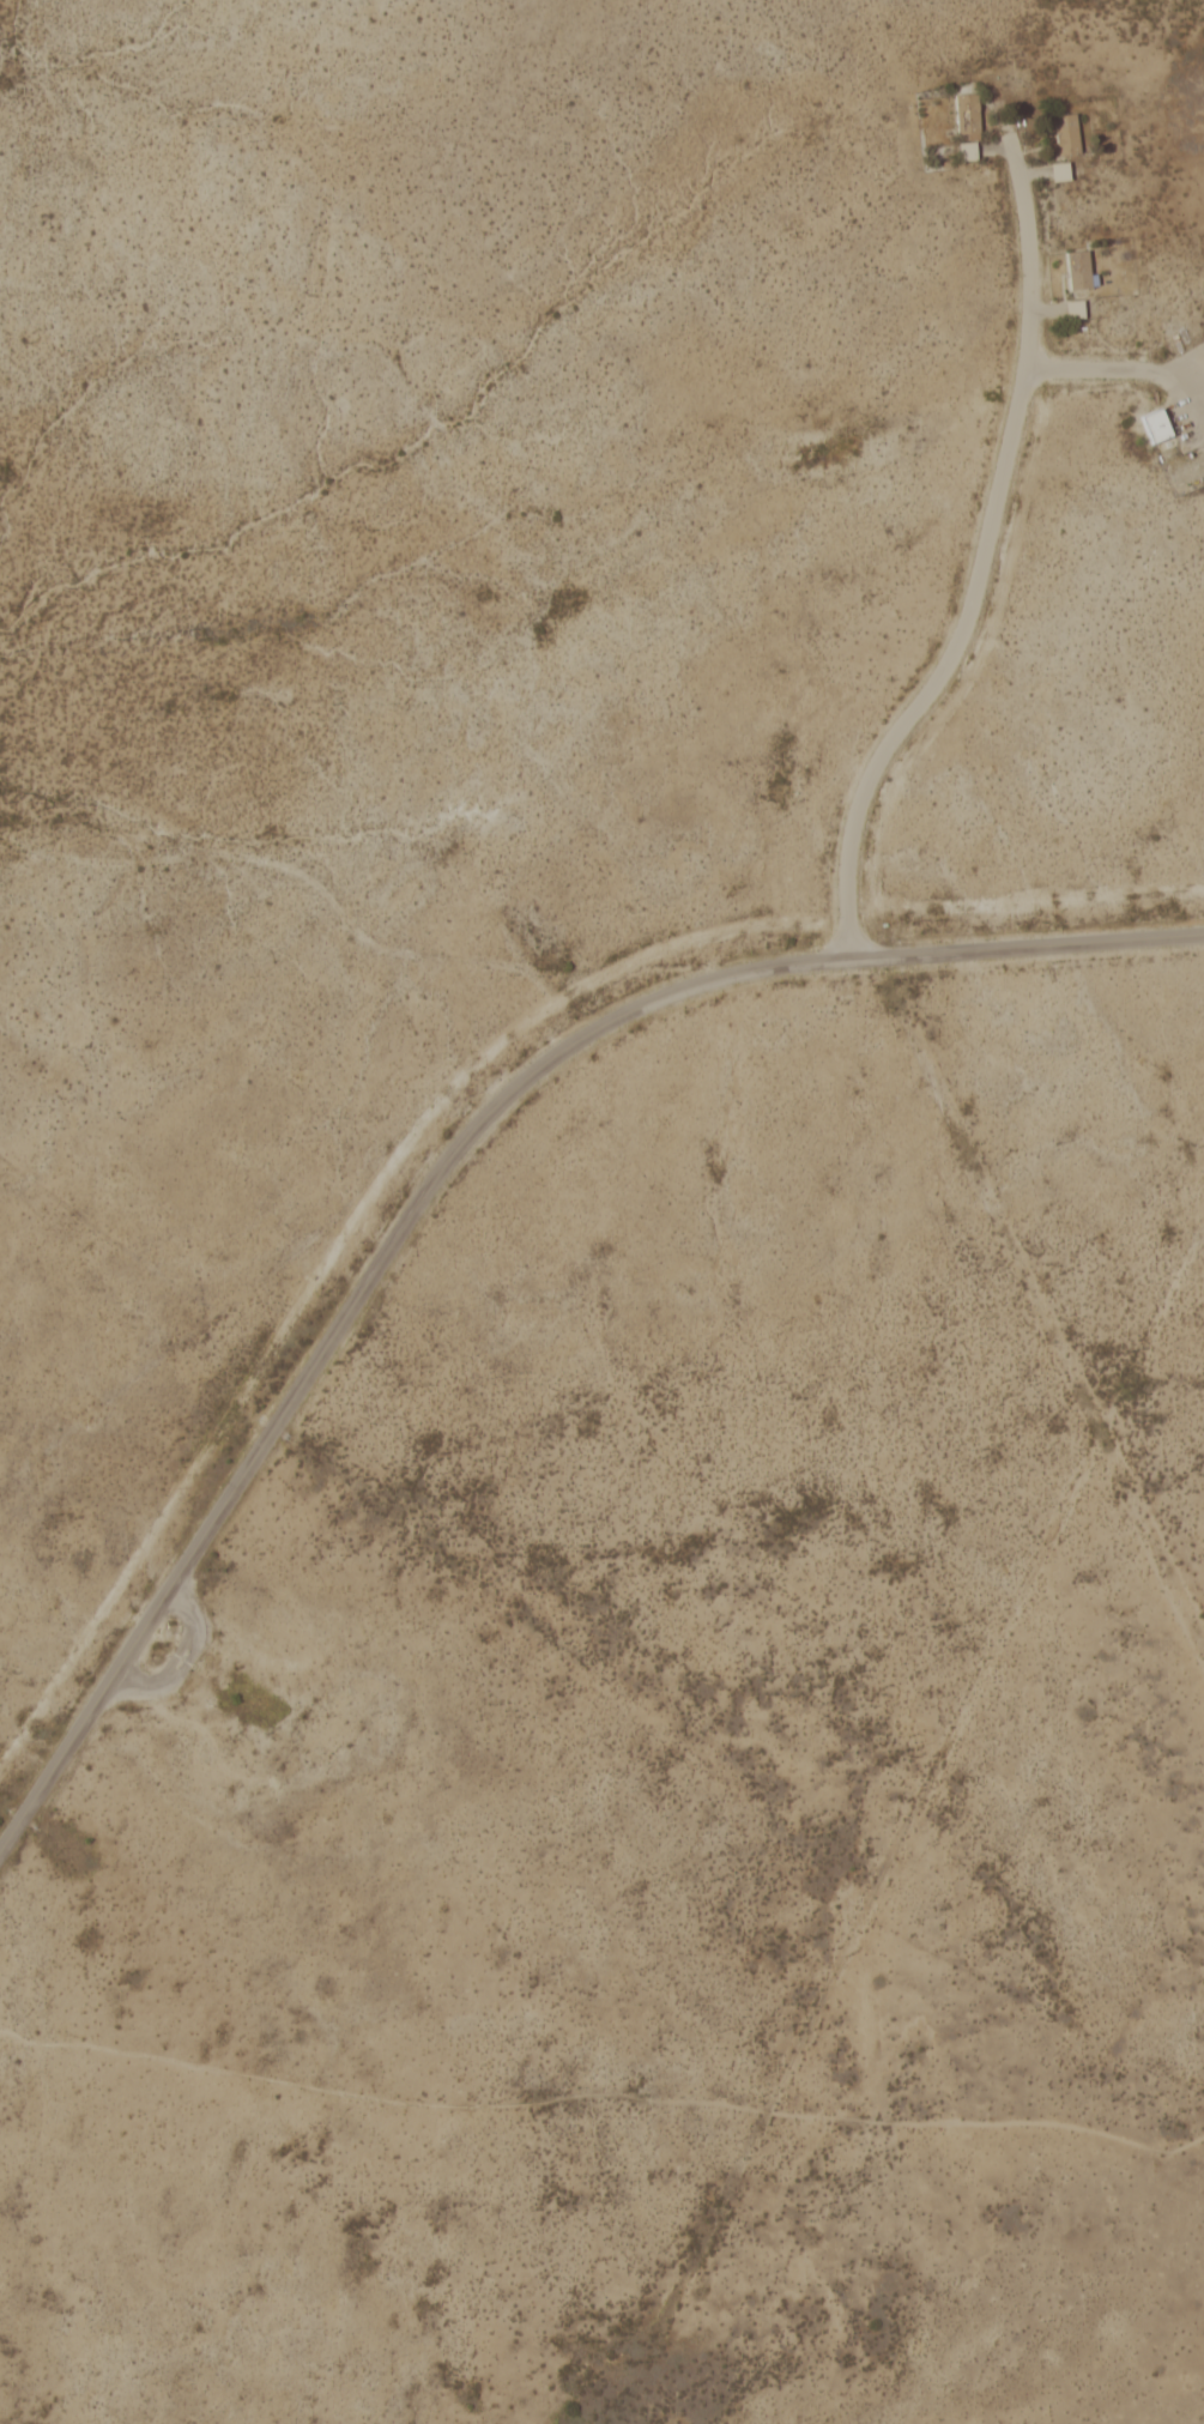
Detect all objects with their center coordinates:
building: (960, 114)
building: (1058, 135)
building: (958, 150)
building: (1052, 171)
building: (1070, 268)
building: (1066, 308)
building: (1203, 352)
road: (1099, 370)
building: (1148, 424)
road: (980, 548)
road: (446, 1156)
road: (177, 1656)
road: (603, 2093)

